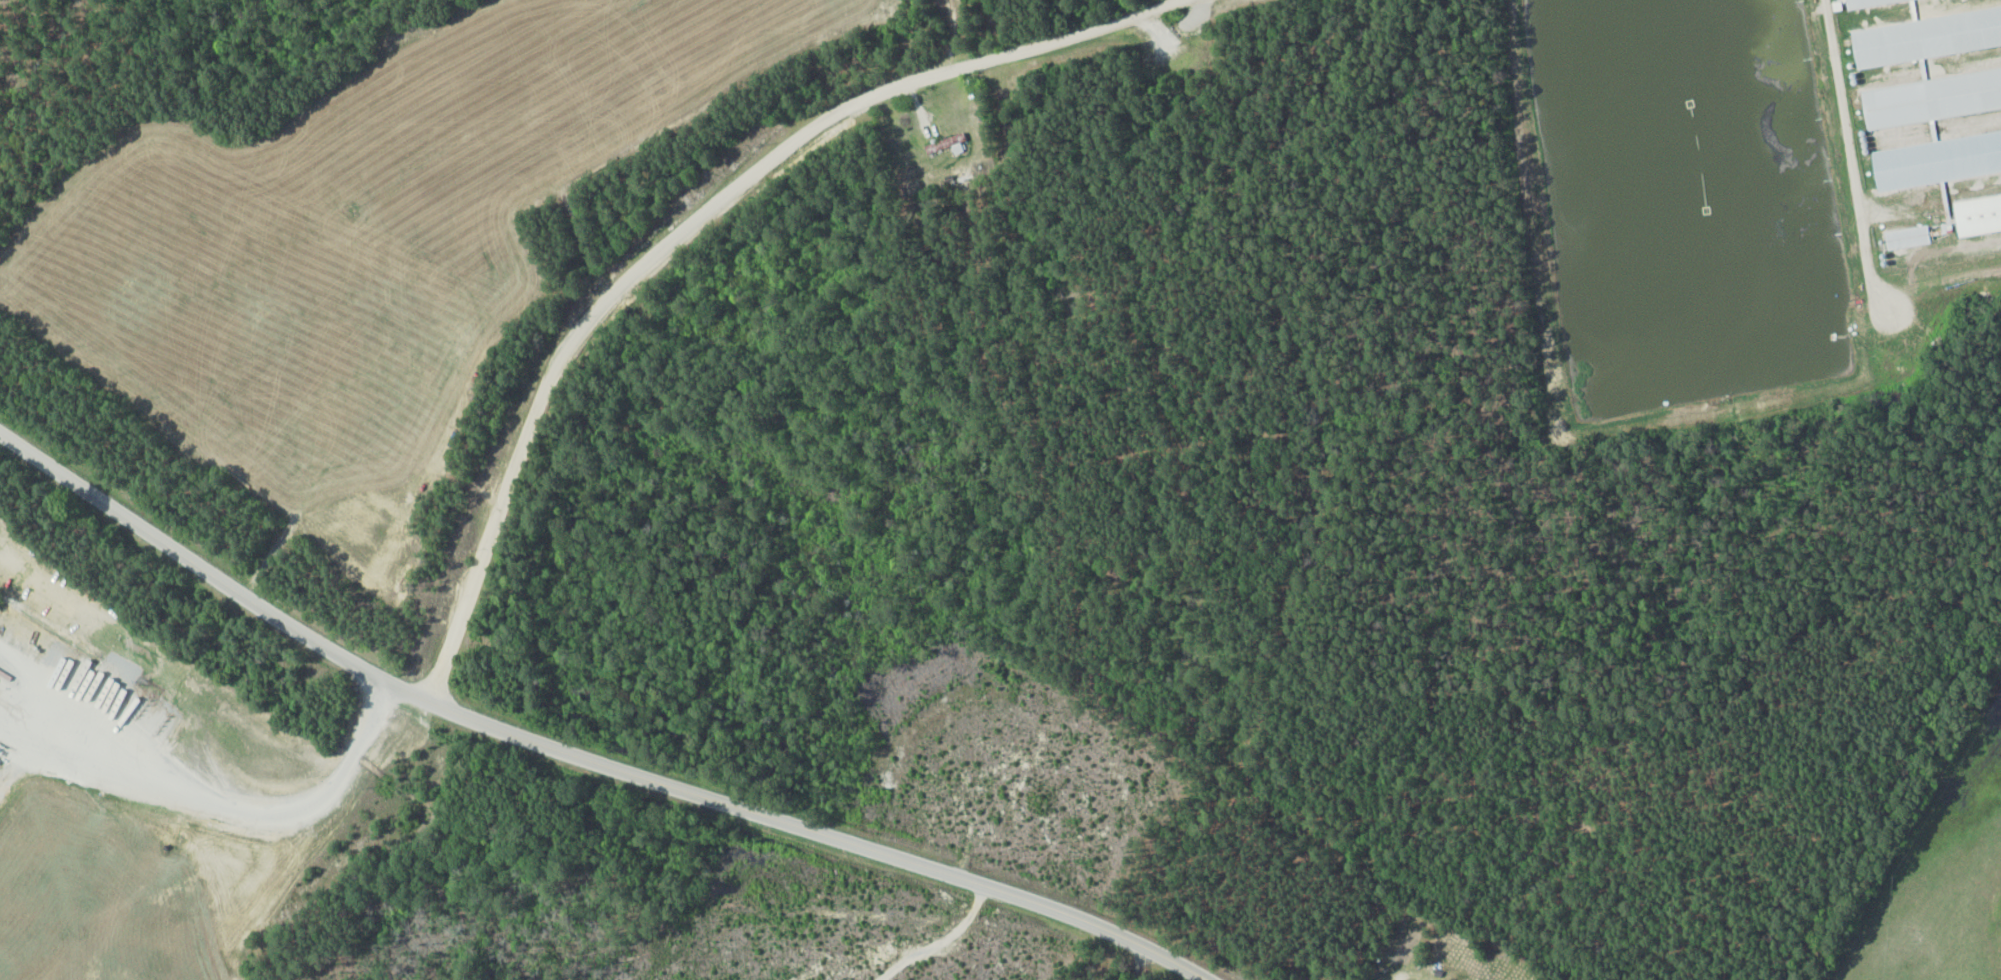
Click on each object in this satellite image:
building: (1937, 88)
building: (945, 143)
building: (1978, 215)
road: (688, 227)
building: (1906, 237)
road: (580, 757)

